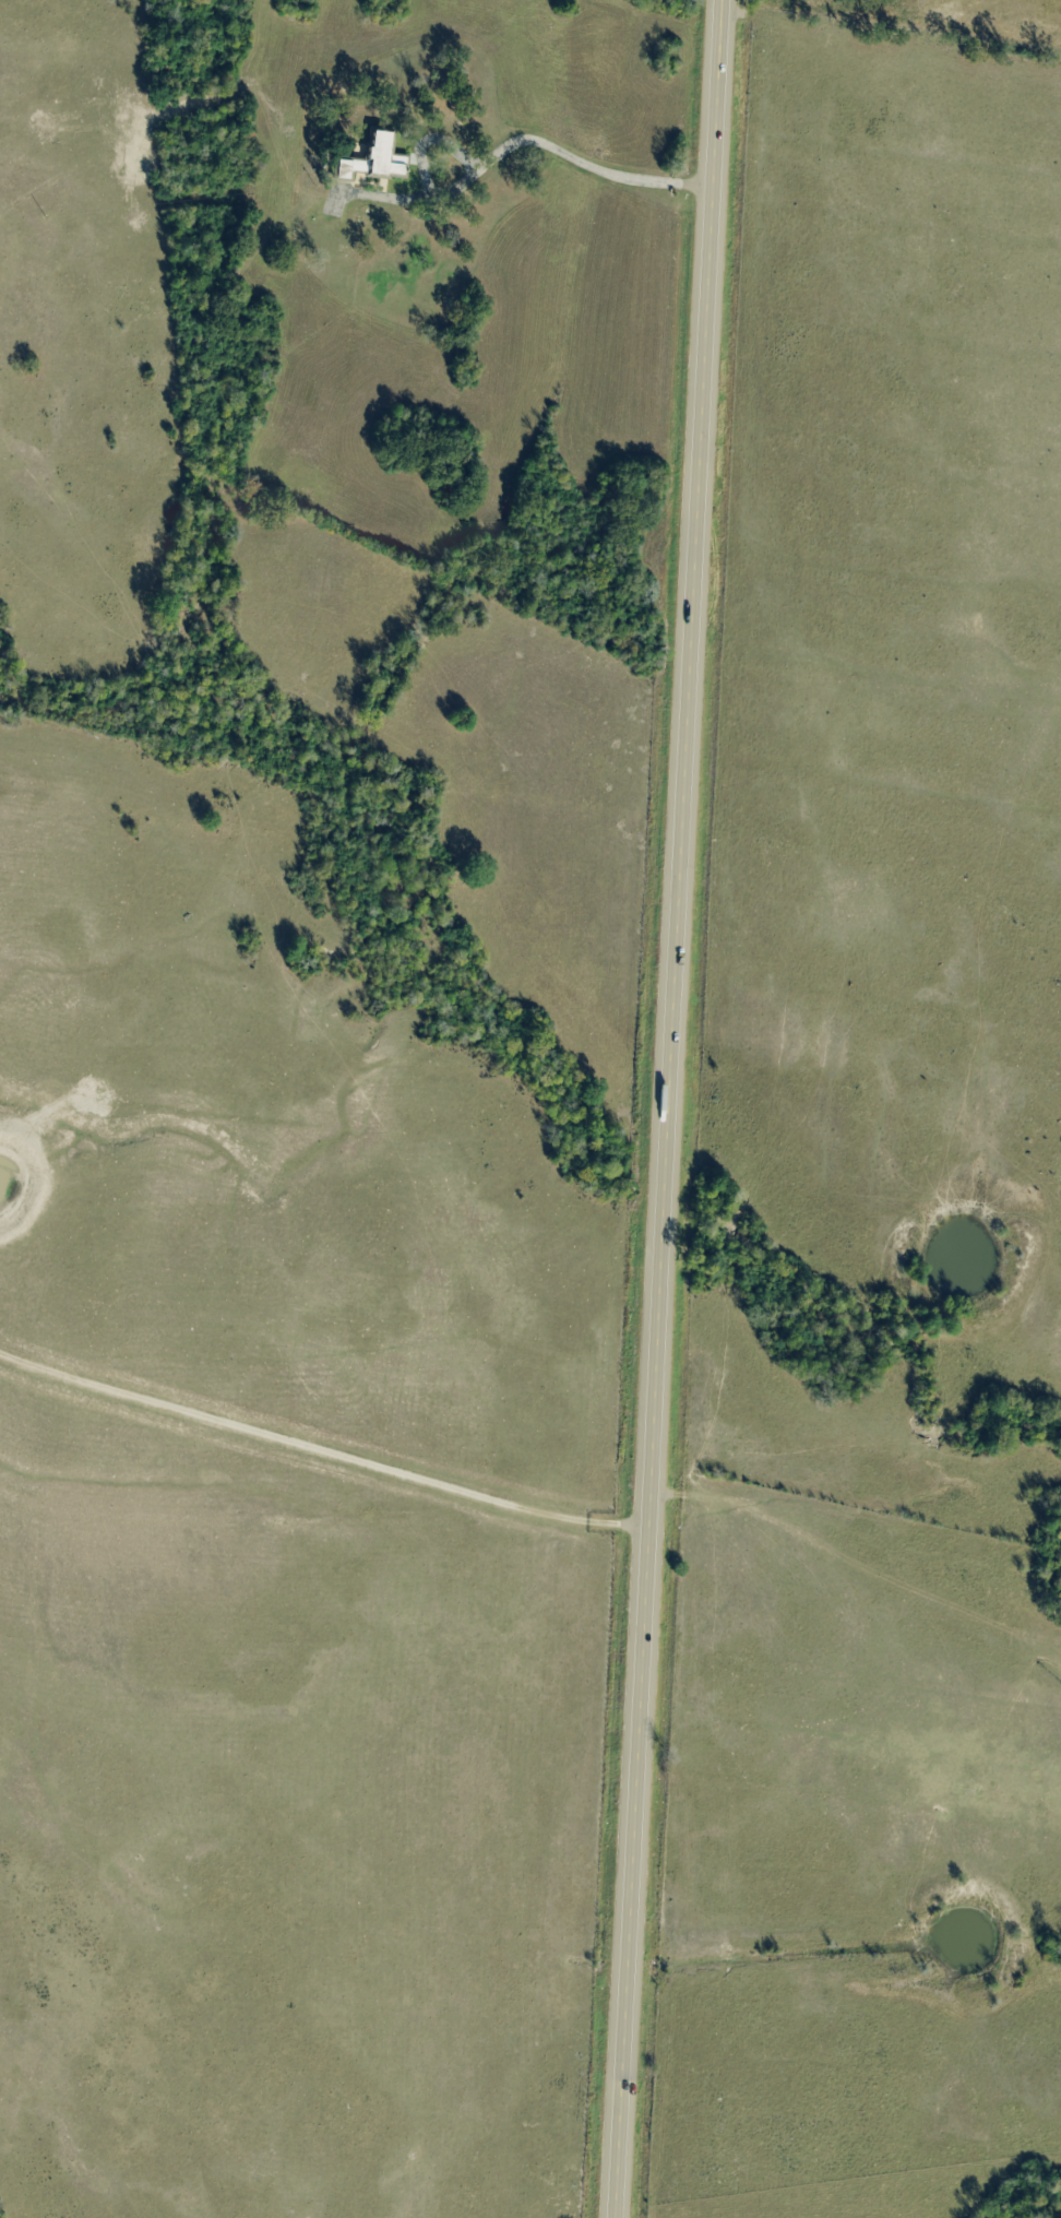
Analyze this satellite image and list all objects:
building: (374, 161)
road: (670, 1108)
road: (323, 1445)

